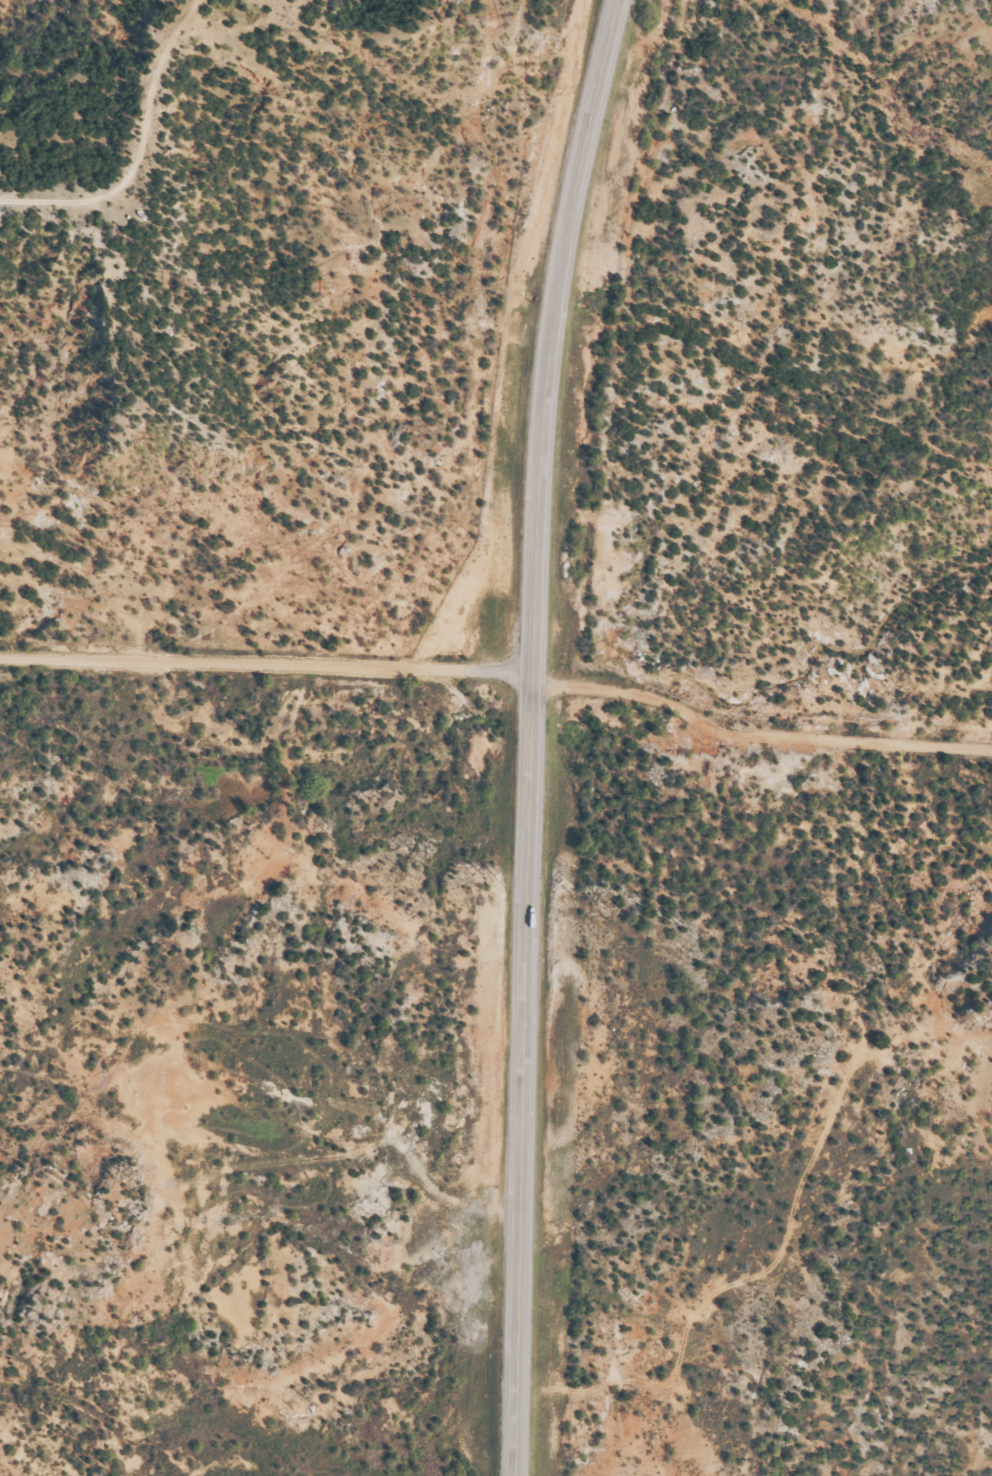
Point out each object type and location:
road: (440, 65)
road: (140, 139)
road: (64, 601)
road: (264, 659)
road: (526, 734)
road: (755, 737)

